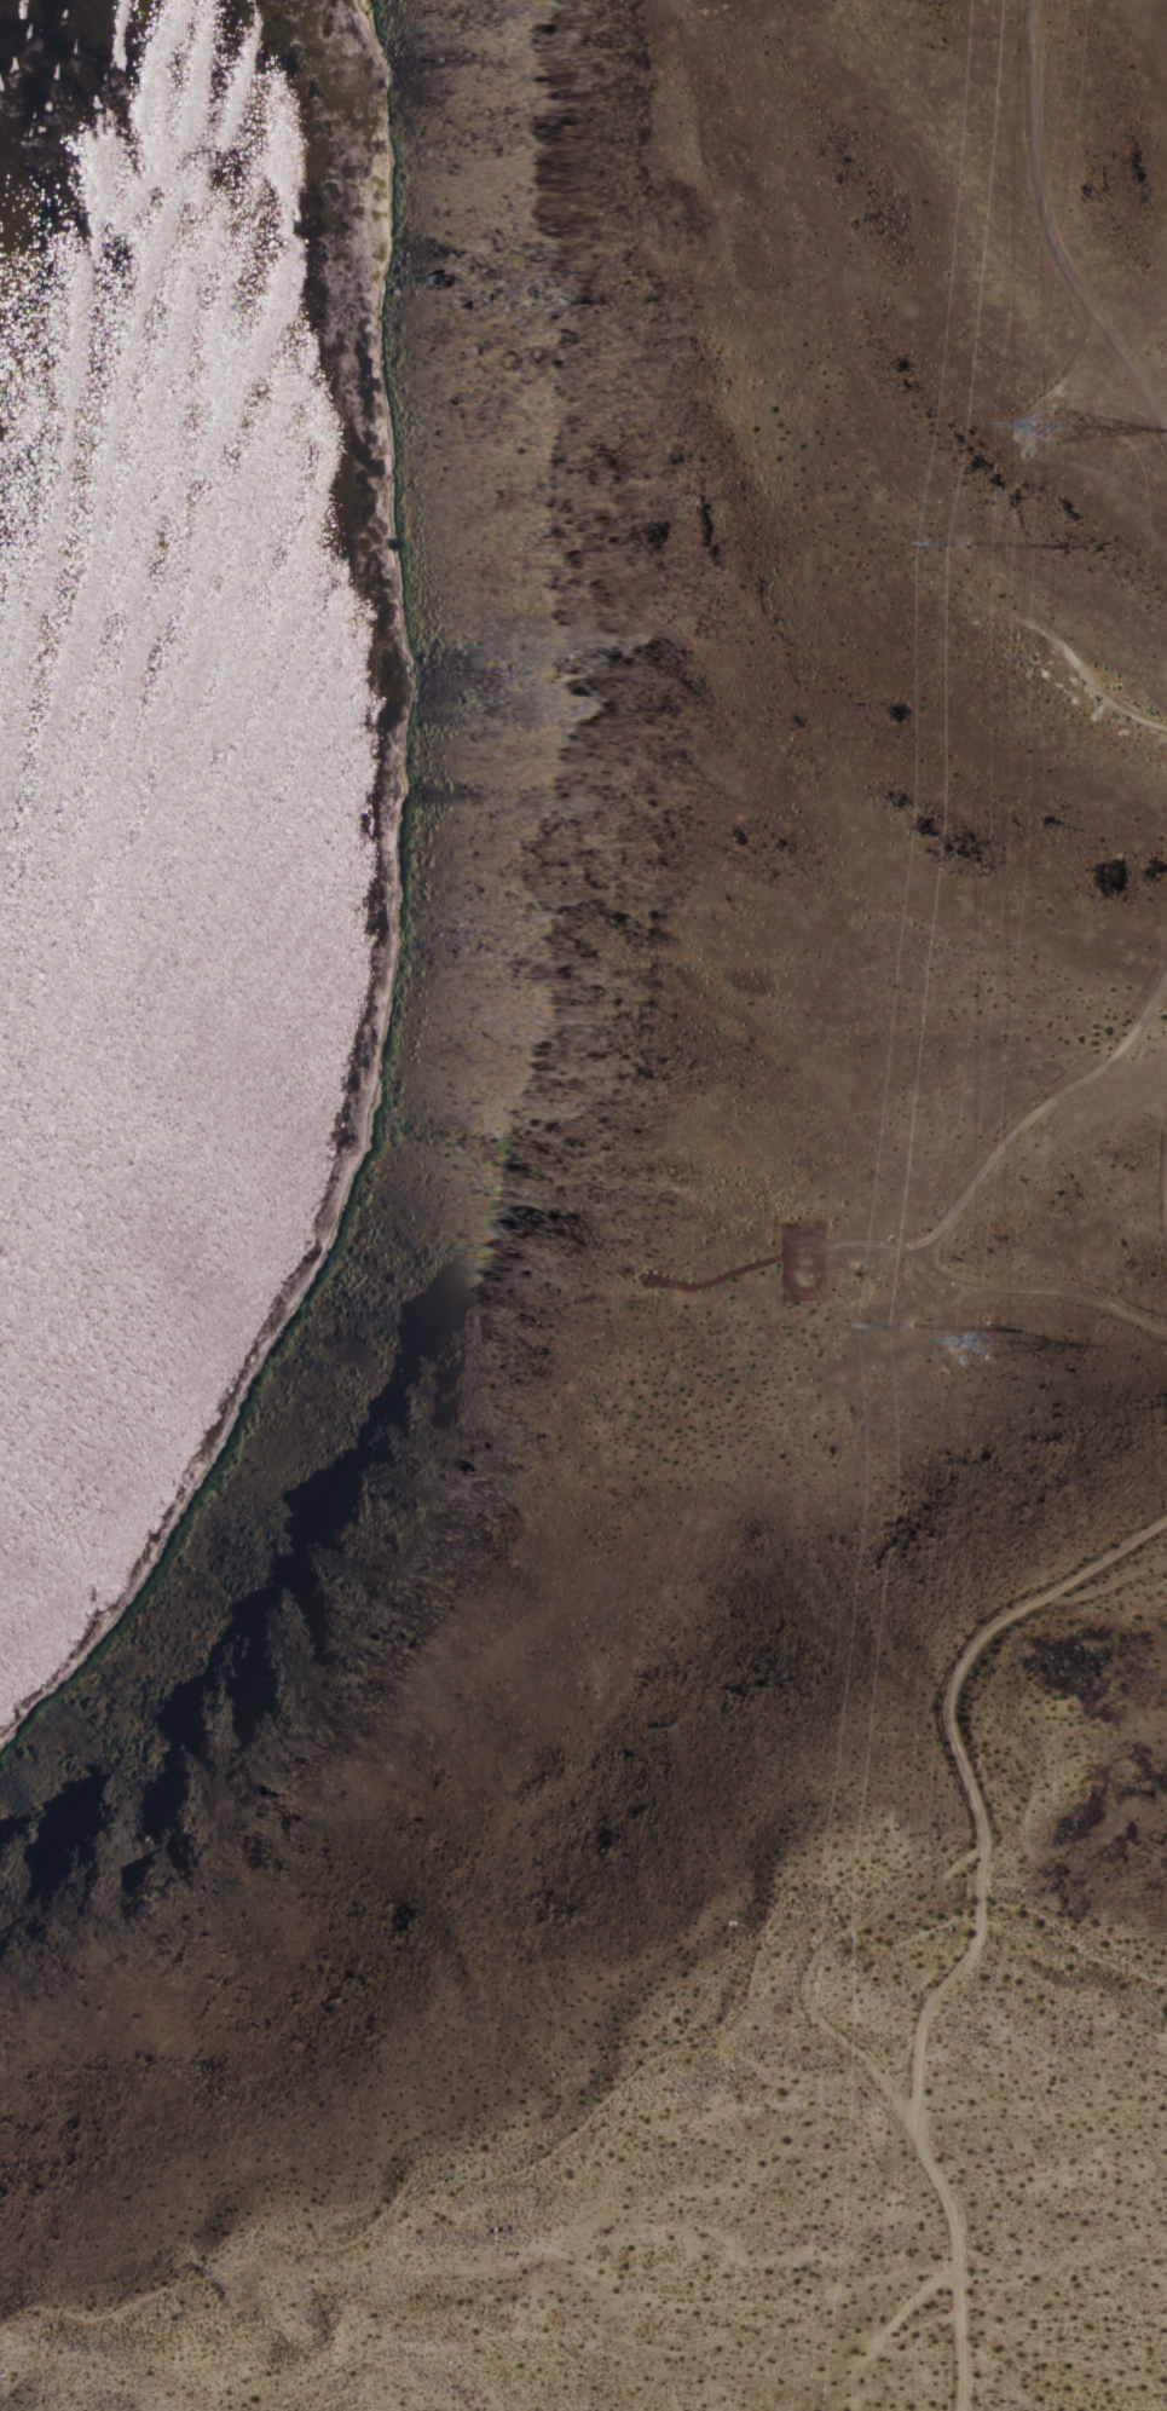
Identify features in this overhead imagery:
road: (1062, 235)
power tower: (1046, 425)
power tower: (967, 543)
road: (1163, 1184)
road: (961, 1194)
road: (860, 1240)
power tower: (915, 1317)
power tower: (988, 1348)
road: (972, 1913)
power tower: (834, 2410)

